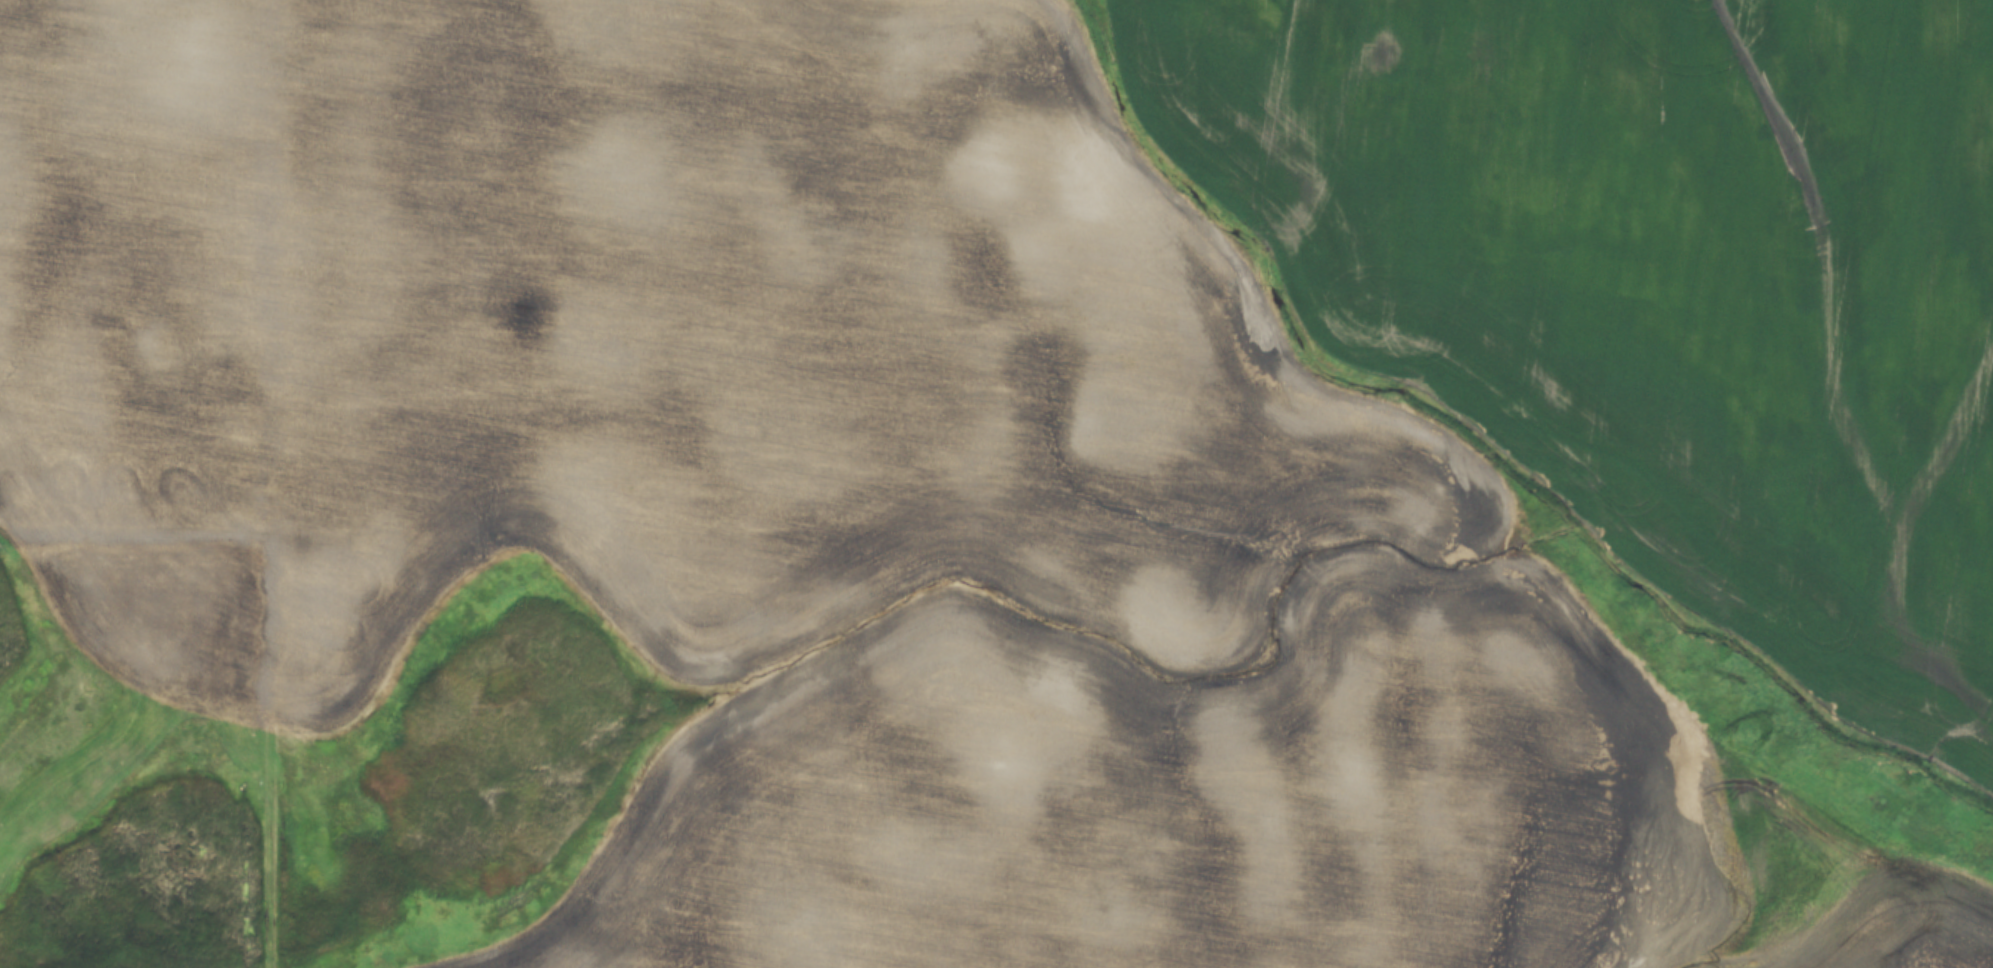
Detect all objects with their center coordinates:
road: (280, 483)

